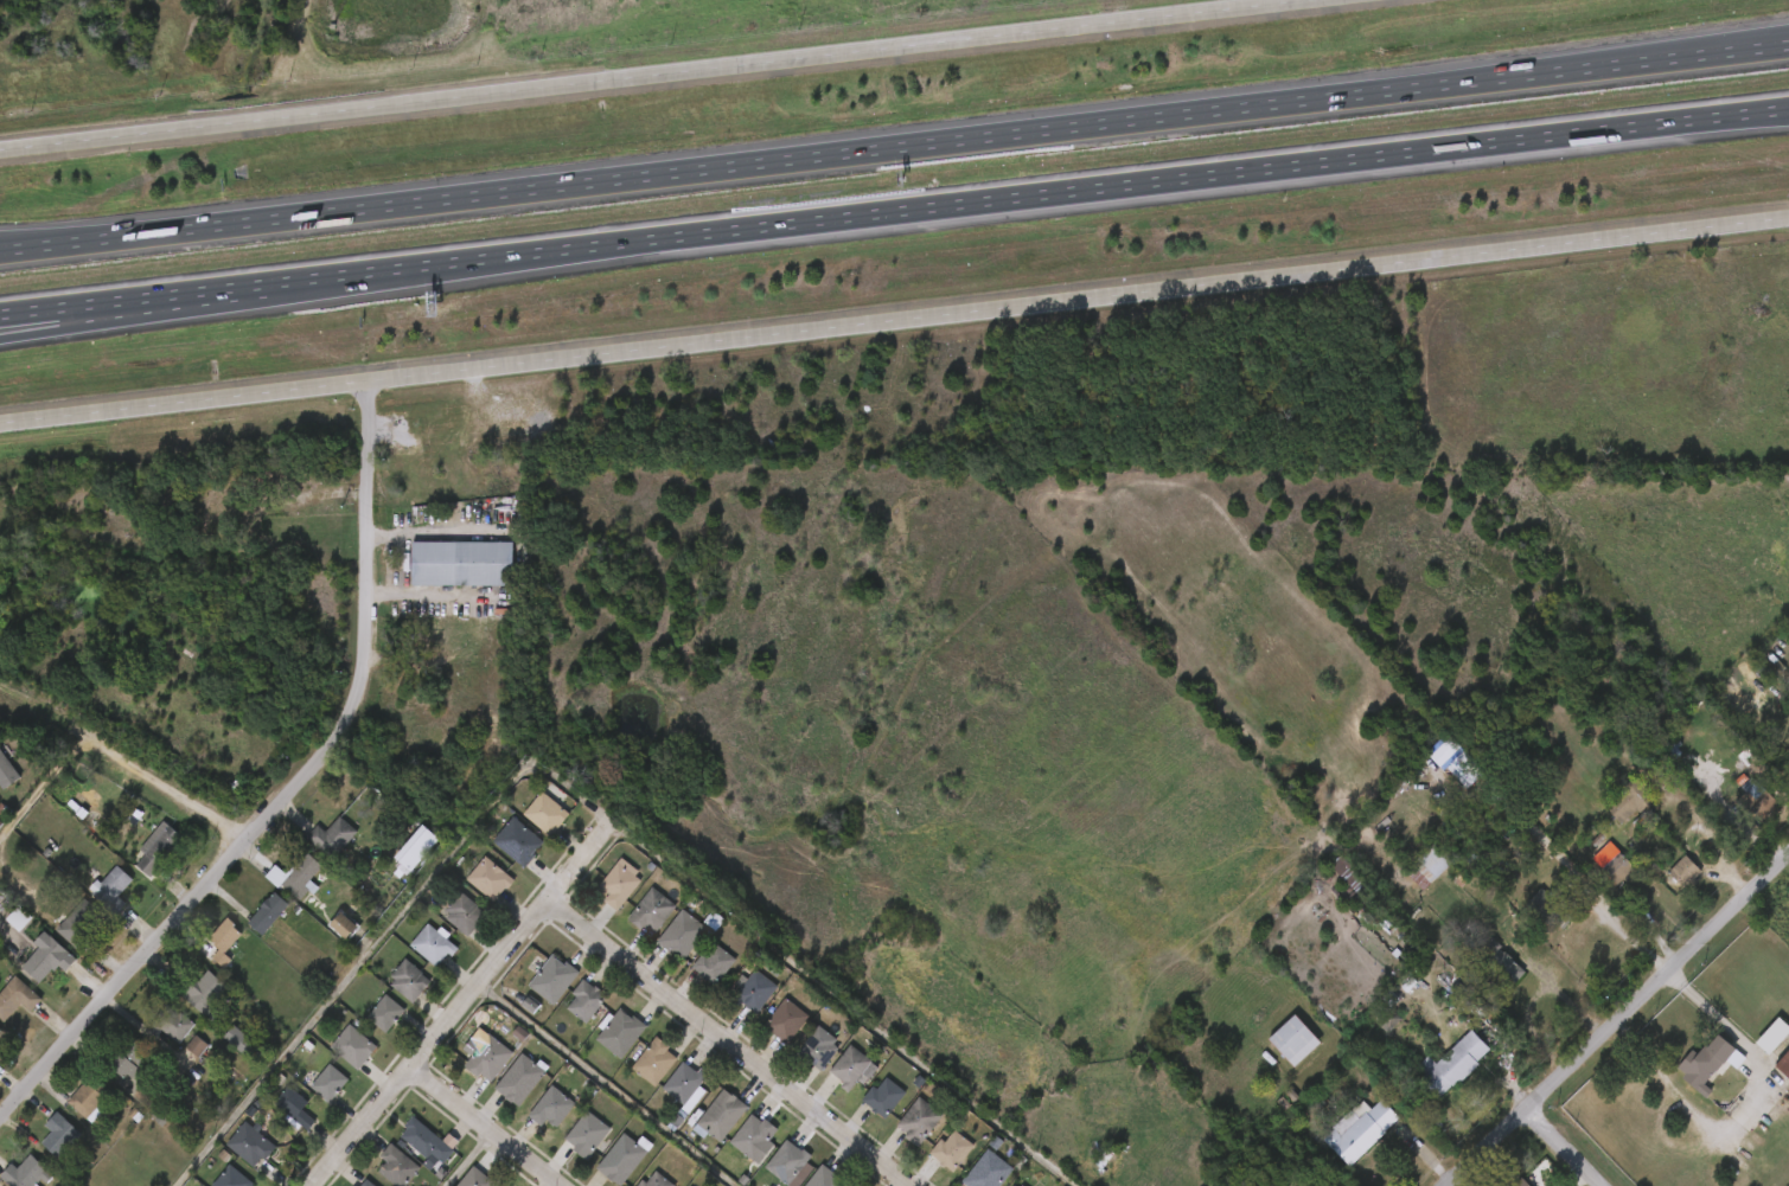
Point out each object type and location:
road: (1730, 41)
road: (1730, 47)
road: (665, 76)
road: (1701, 117)
road: (1701, 123)
road: (912, 145)
road: (928, 206)
road: (76, 232)
road: (76, 241)
road: (121, 300)
road: (121, 314)
road: (894, 319)
building: (461, 563)
building: (8, 769)
road: (36, 789)
road: (289, 789)
road: (153, 794)
building: (1755, 801)
building: (1629, 802)
road: (582, 810)
building: (549, 813)
building: (524, 826)
building: (336, 835)
building: (520, 841)
building: (421, 846)
building: (160, 847)
building: (311, 850)
building: (497, 853)
building: (136, 859)
building: (395, 860)
building: (1614, 863)
building: (1429, 864)
building: (1683, 871)
building: (300, 876)
building: (492, 878)
building: (622, 883)
building: (1357, 883)
building: (115, 889)
building: (275, 890)
building: (468, 891)
building: (599, 896)
building: (91, 900)
building: (1564, 909)
building: (654, 911)
building: (271, 912)
building: (468, 913)
building: (631, 923)
building: (82, 924)
building: (247, 925)
building: (443, 927)
building: (4, 930)
road: (1619, 930)
building: (686, 932)
building: (58, 935)
building: (322, 937)
building: (226, 940)
building: (436, 944)
building: (660, 947)
building: (203, 953)
building: (411, 956)
building: (51, 957)
building: (1496, 962)
building: (717, 964)
building: (26, 969)
building: (692, 975)
building: (411, 979)
building: (556, 979)
road: (1675, 979)
building: (531, 991)
building: (758, 991)
building: (388, 993)
road: (1559, 994)
building: (204, 995)
building: (18, 998)
building: (589, 1000)
building: (731, 1001)
building: (185, 1007)
road: (456, 1008)
building: (389, 1012)
building: (564, 1013)
road: (1618, 1019)
building: (790, 1020)
building: (173, 1022)
building: (364, 1025)
building: (1, 1028)
road: (1532, 1028)
road: (1624, 1028)
building: (622, 1032)
building: (765, 1032)
building: (1772, 1034)
building: (154, 1037)
building: (1290, 1039)
building: (599, 1045)
road: (727, 1045)
building: (356, 1046)
building: (823, 1047)
building: (175, 1058)
building: (224, 1058)
building: (332, 1058)
building: (492, 1058)
building: (129, 1059)
building: (659, 1060)
building: (1707, 1063)
building: (1452, 1064)
building: (1784, 1064)
building: (856, 1066)
building: (466, 1069)
building: (108, 1071)
building: (633, 1073)
building: (524, 1079)
building: (332, 1082)
building: (690, 1085)
road: (600, 1086)
building: (499, 1092)
building: (308, 1095)
building: (664, 1097)
building: (888, 1097)
building: (89, 1100)
building: (555, 1107)
building: (298, 1108)
road: (1738, 1108)
building: (69, 1109)
building: (726, 1116)
building: (273, 1118)
building: (530, 1120)
building: (924, 1121)
road: (483, 1127)
building: (699, 1127)
building: (1357, 1130)
building: (62, 1134)
building: (590, 1134)
building: (756, 1136)
building: (429, 1140)
building: (253, 1143)
building: (566, 1146)
building: (39, 1147)
road: (1564, 1147)
building: (734, 1149)
building: (956, 1150)
building: (405, 1153)
building: (229, 1156)
building: (1114, 1156)
building: (627, 1158)
road: (468, 1159)
building: (794, 1163)
building: (401, 1166)
building: (992, 1167)
building: (28, 1173)
building: (235, 1178)
building: (828, 1178)
building: (479, 1179)
building: (659, 1181)
building: (210, 1182)
building: (453, 1182)
building: (1522, 1182)
building: (370, 1184)
building: (634, 1185)
building: (1017, 1185)
building: (1027, 1185)

